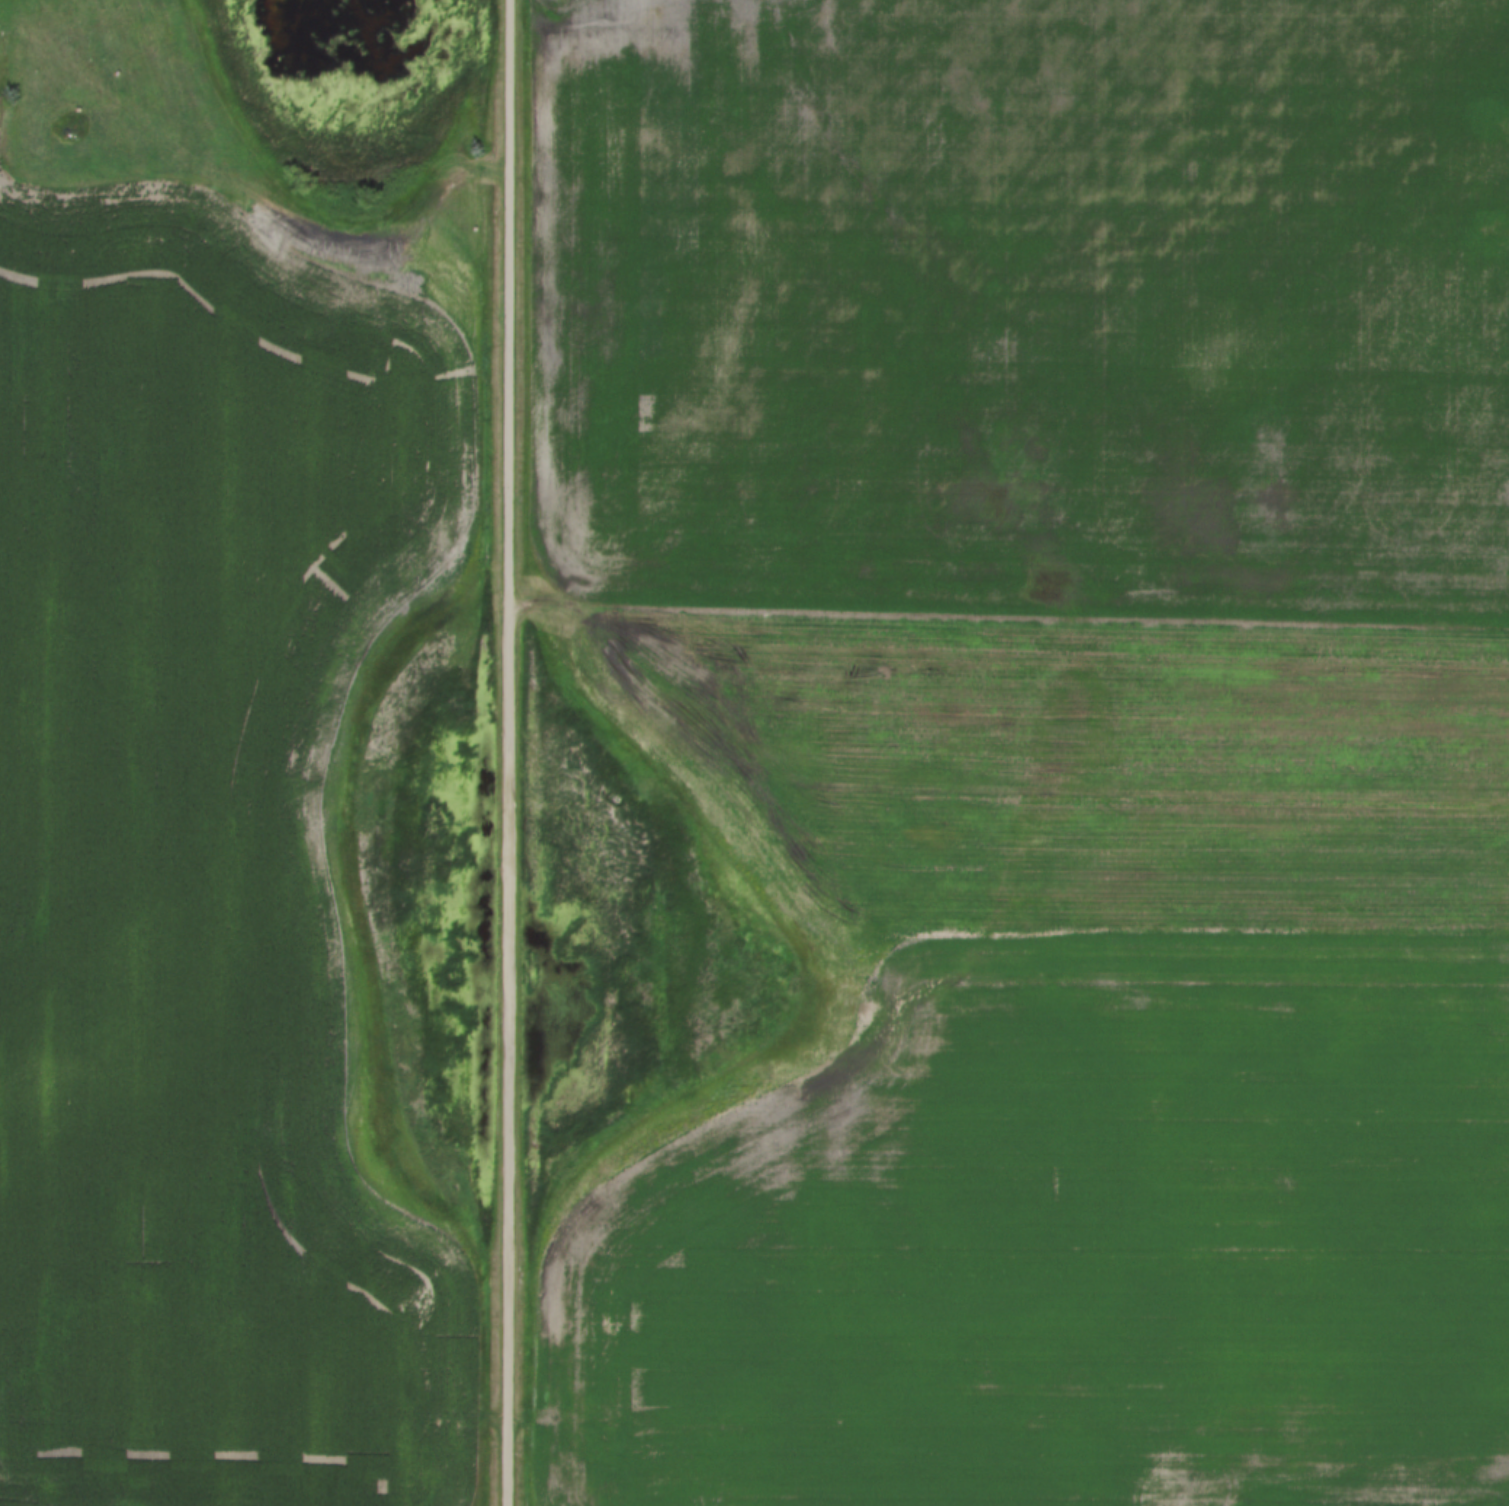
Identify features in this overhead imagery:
road: (513, 753)

